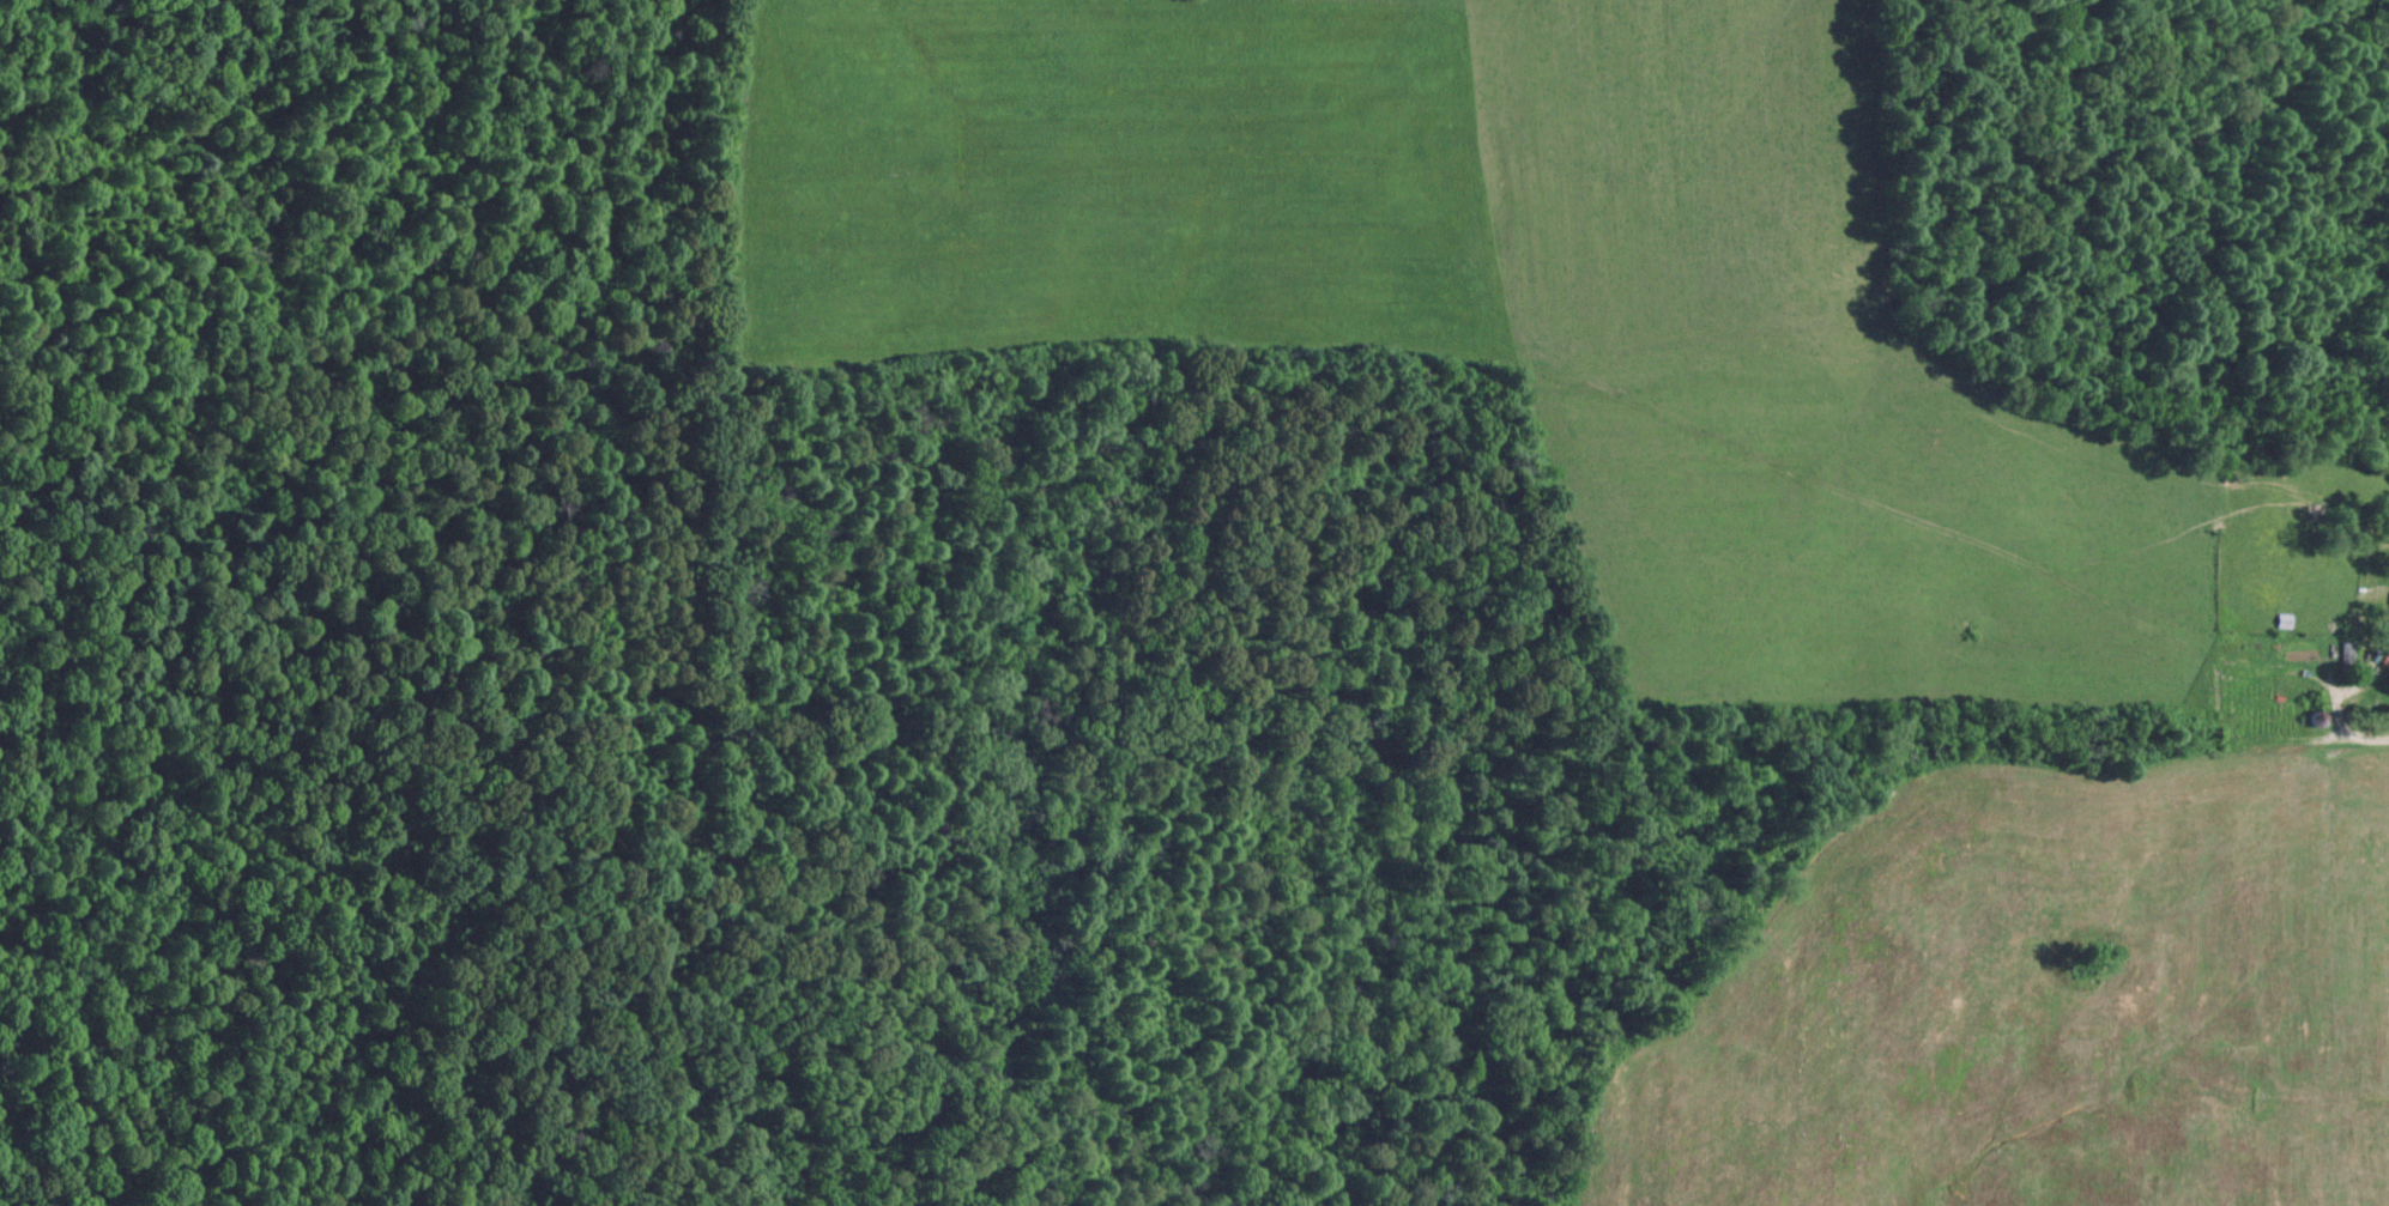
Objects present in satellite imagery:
building: (2342, 654)
road: (2372, 740)

